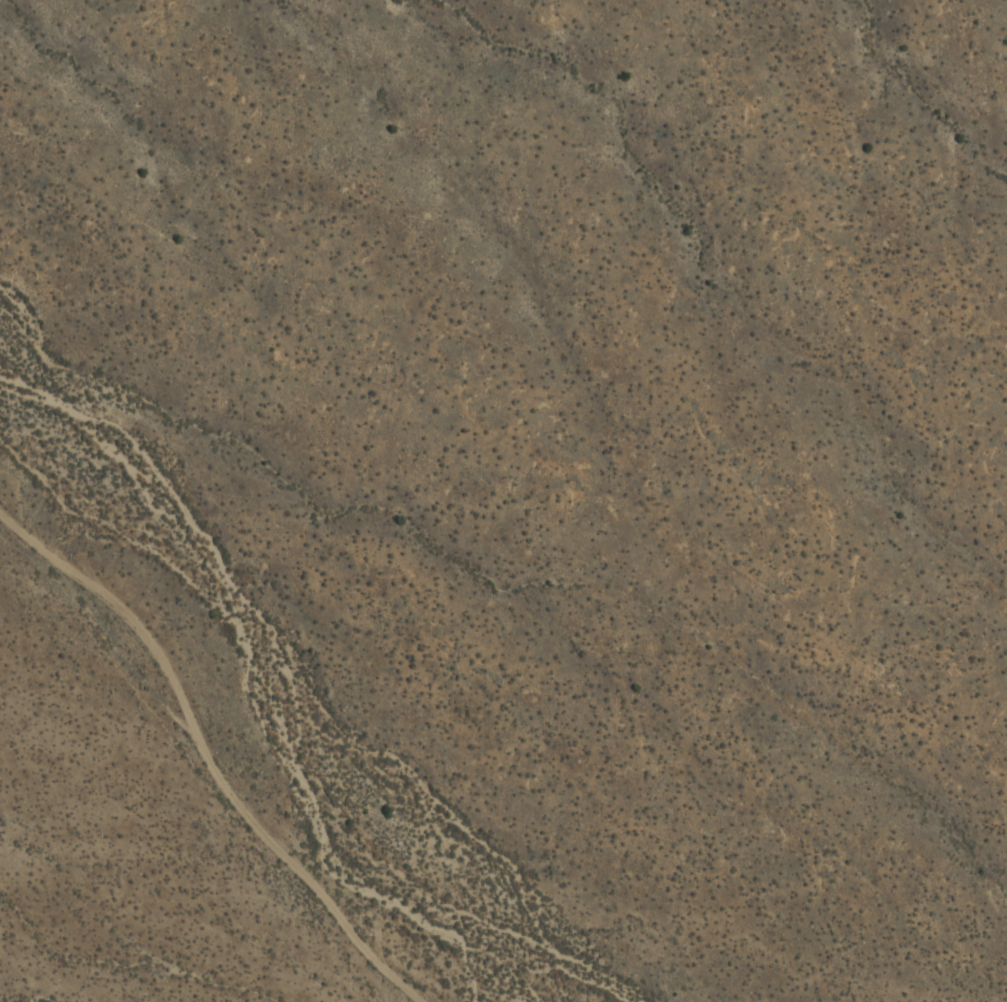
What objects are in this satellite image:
road: (95, 592)
road: (292, 854)

